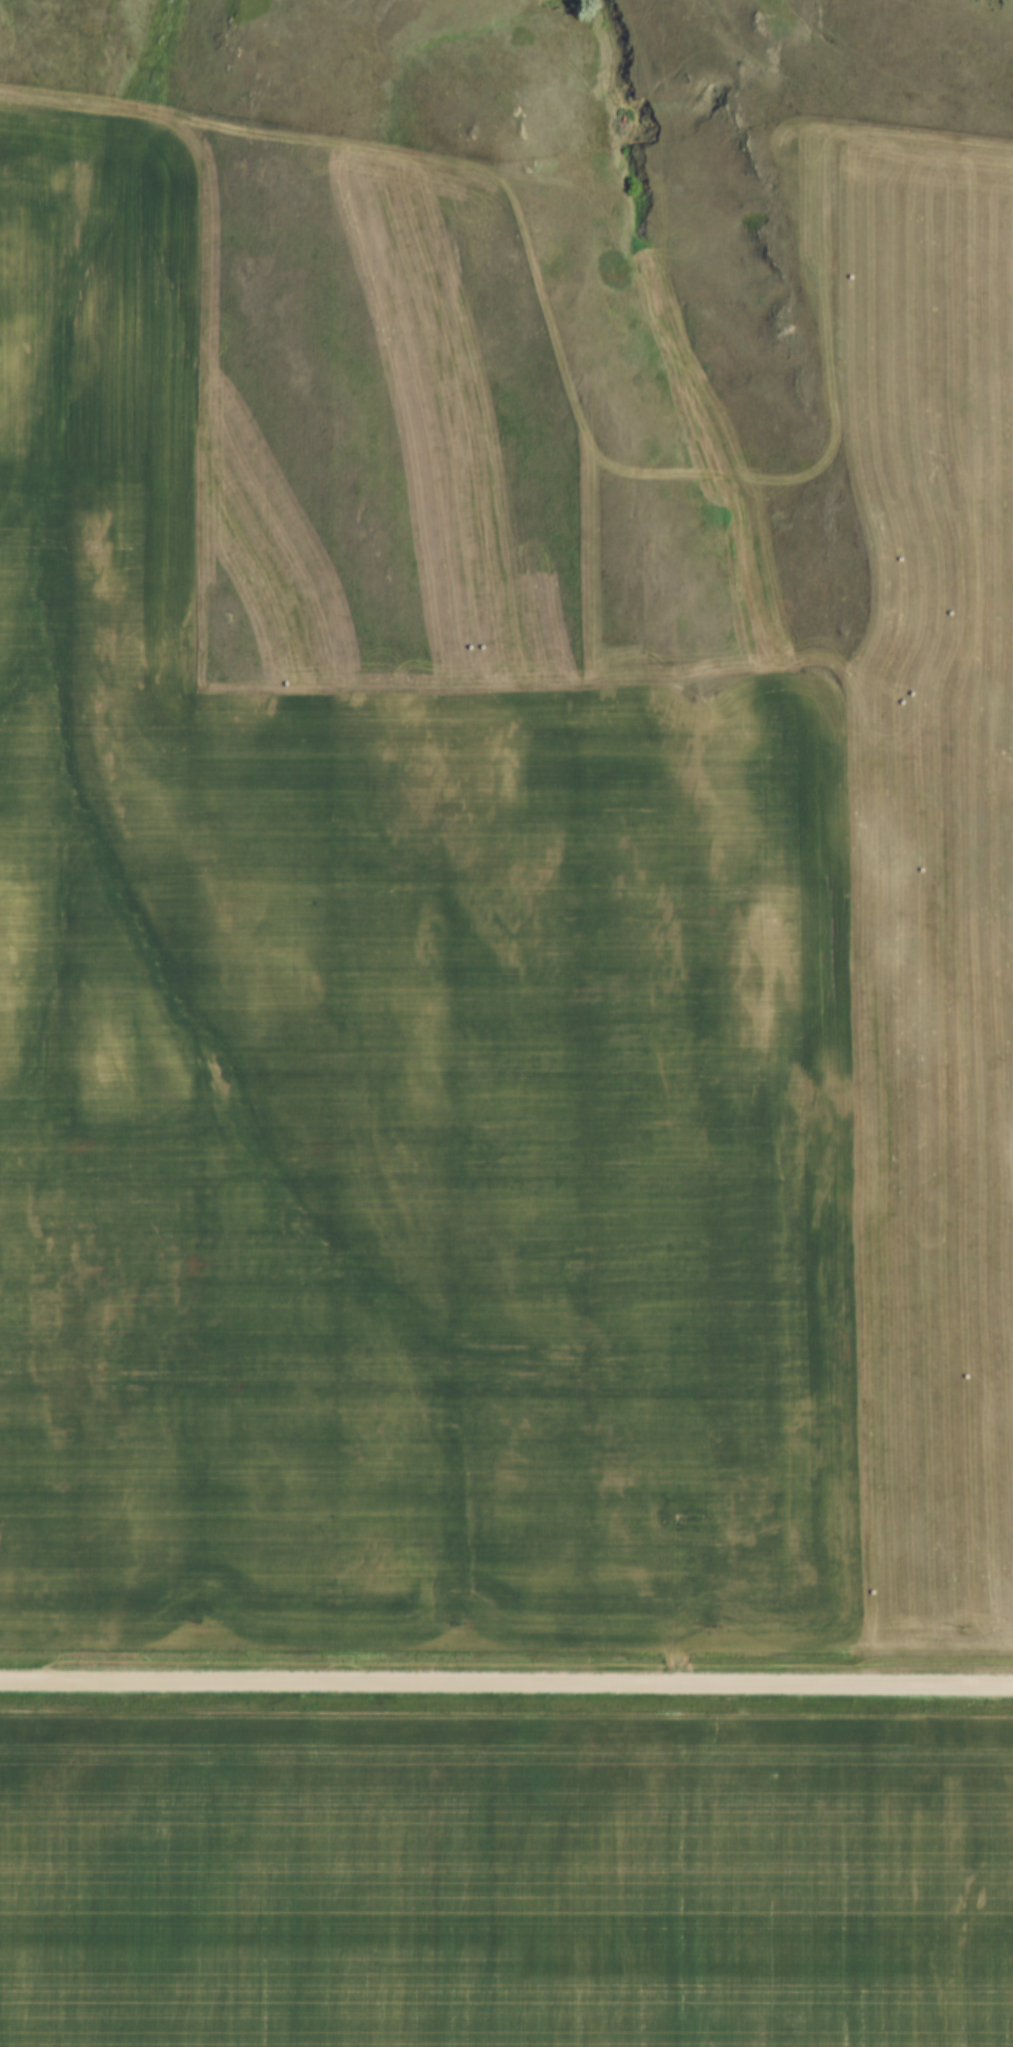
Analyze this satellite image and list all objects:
road: (582, 441)
road: (506, 1689)

